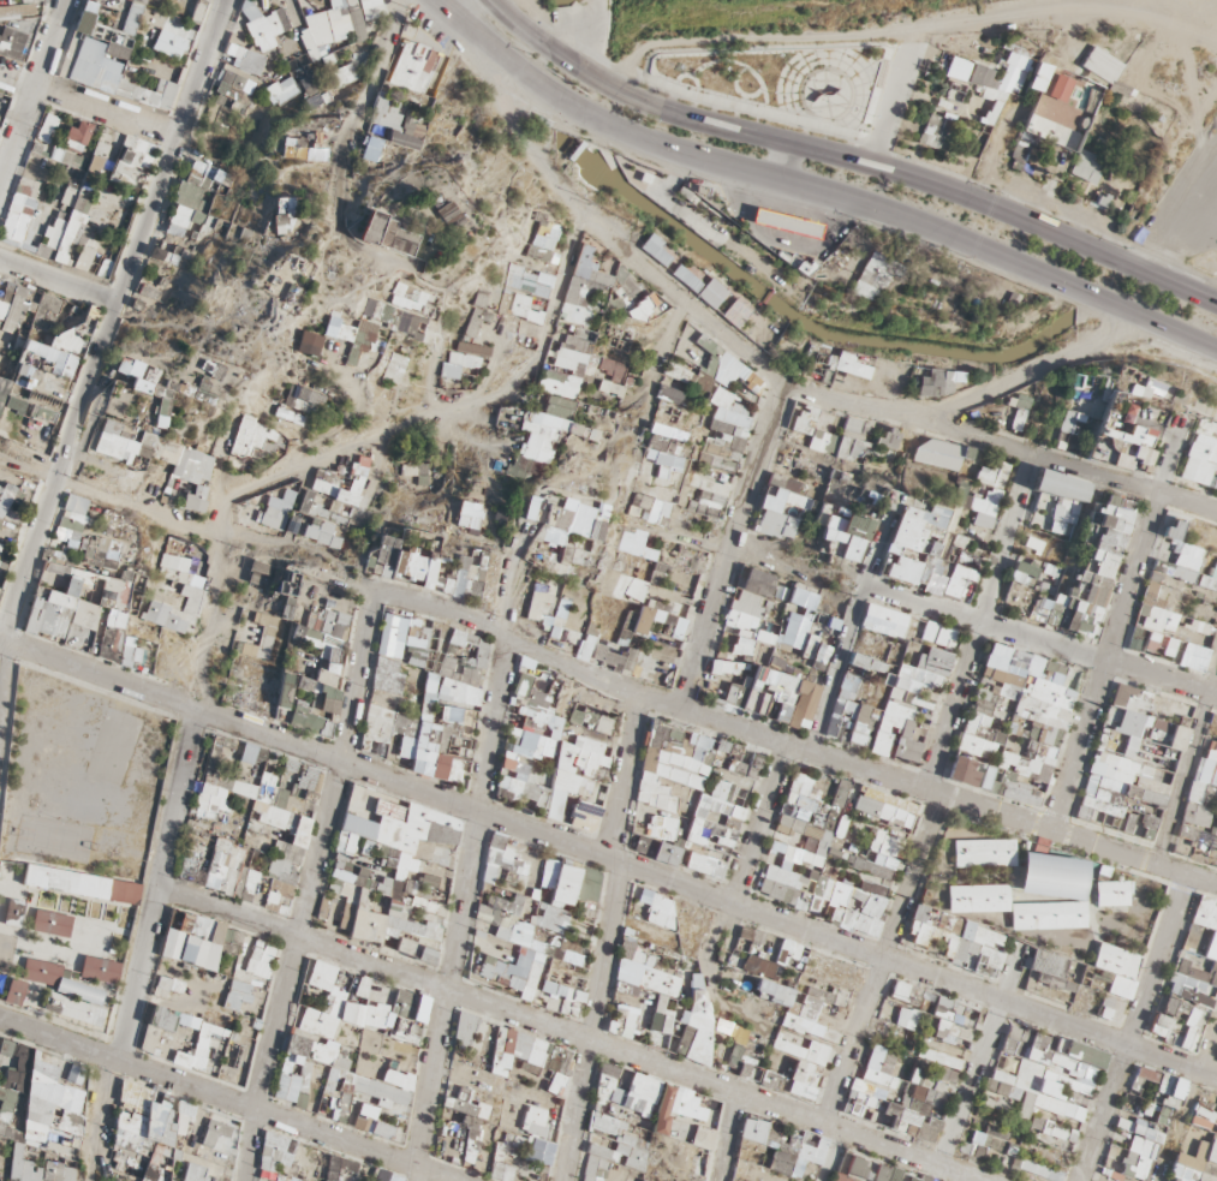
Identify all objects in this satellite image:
road: (1210, 1)
road: (531, 18)
road: (771, 38)
building: (94, 48)
road: (877, 56)
road: (648, 59)
road: (733, 65)
road: (681, 76)
park: (780, 80)
road: (733, 93)
fountain: (816, 94)
road: (885, 108)
road: (344, 153)
road: (780, 162)
road: (846, 162)
road: (735, 180)
road: (816, 187)
road: (846, 209)
building: (778, 225)
gas station: (778, 225)
road: (1185, 228)
road: (782, 233)
road: (563, 274)
road: (102, 344)
road: (756, 354)
building: (399, 362)
road: (649, 404)
building: (227, 435)
building: (117, 437)
road: (1063, 461)
building: (818, 483)
building: (273, 521)
building: (913, 539)
road: (733, 544)
building: (1103, 551)
building: (1037, 569)
building: (59, 587)
building: (303, 601)
building: (1087, 604)
building: (1171, 608)
road: (980, 620)
road: (849, 632)
building: (933, 632)
road: (1114, 632)
road: (1040, 640)
building: (136, 651)
building: (770, 652)
building: (1007, 678)
building: (861, 729)
building: (1213, 734)
road: (780, 740)
building: (1015, 761)
road: (1187, 763)
building: (221, 829)
road: (610, 857)
building: (549, 873)
building: (567, 878)
building: (1021, 879)
building: (1114, 889)
building: (842, 894)
building: (979, 937)
building: (61, 942)
building: (1051, 960)
building: (1115, 966)
building: (323, 977)
building: (1193, 977)
building: (197, 991)
building: (407, 1027)
building: (316, 1036)
building: (943, 1054)
building: (1051, 1075)
building: (506, 1099)
road: (1187, 1099)
road: (865, 1132)

